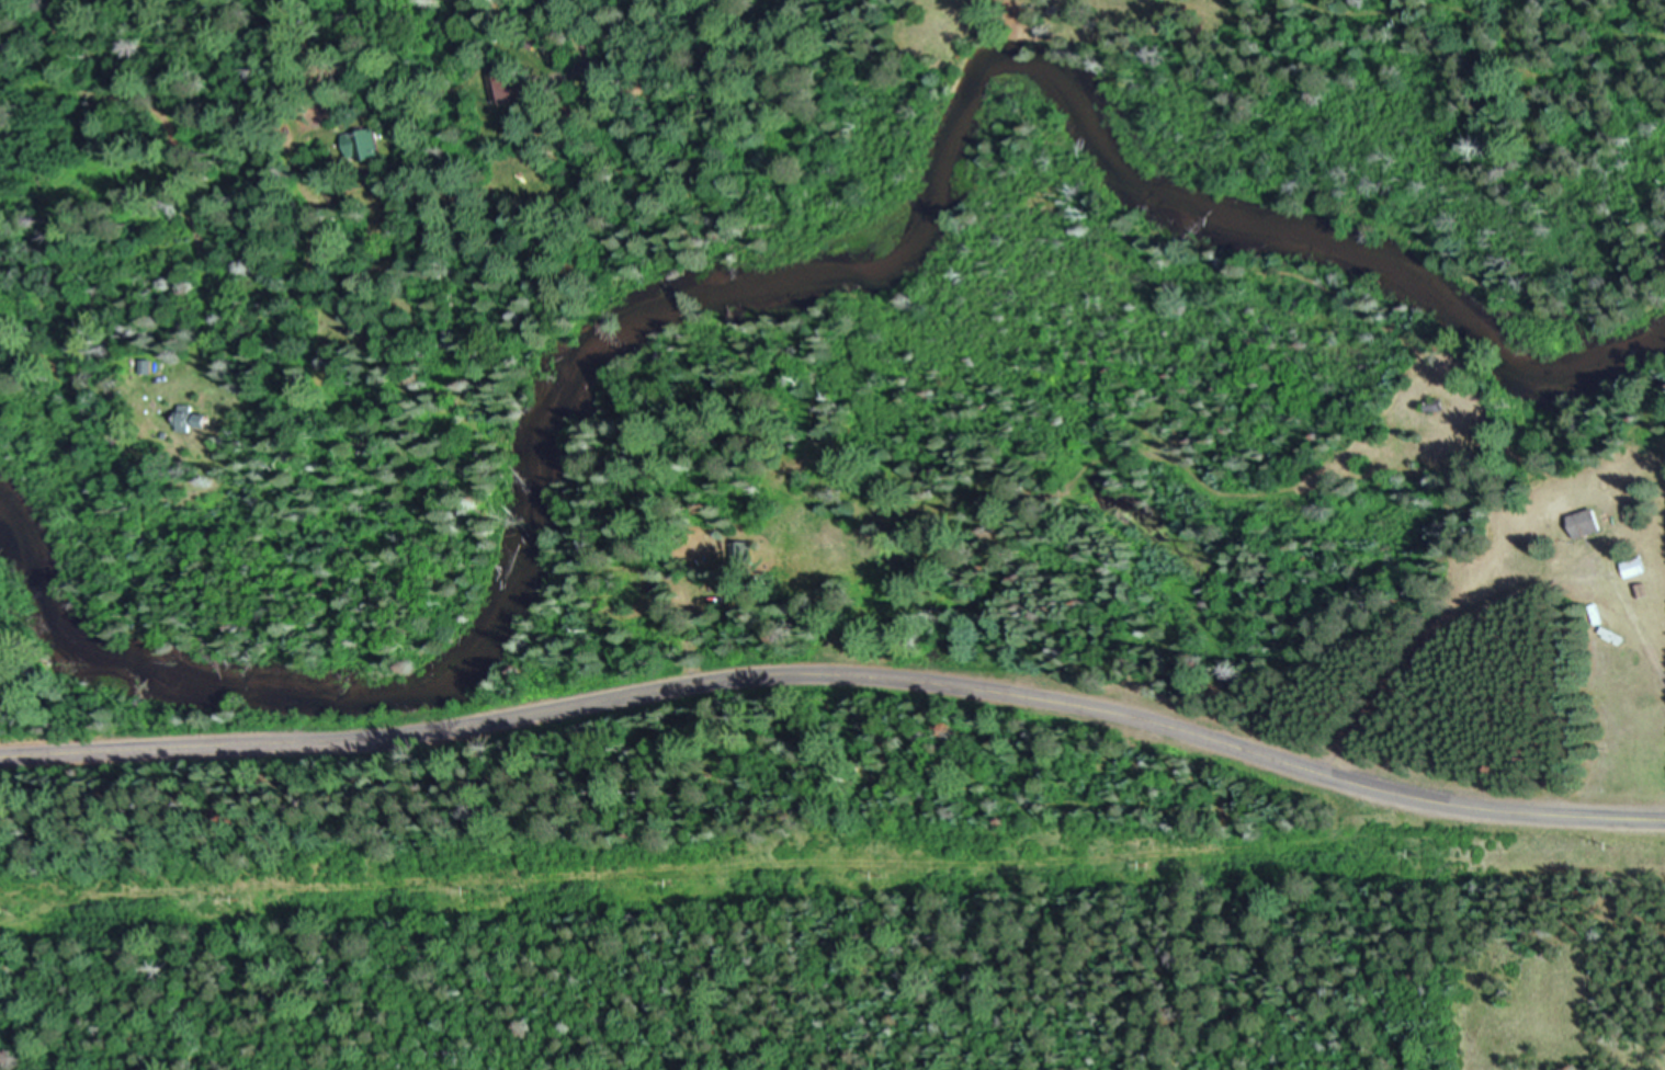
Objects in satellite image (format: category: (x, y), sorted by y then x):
river: (784, 285)
building: (1584, 530)
road: (838, 676)

